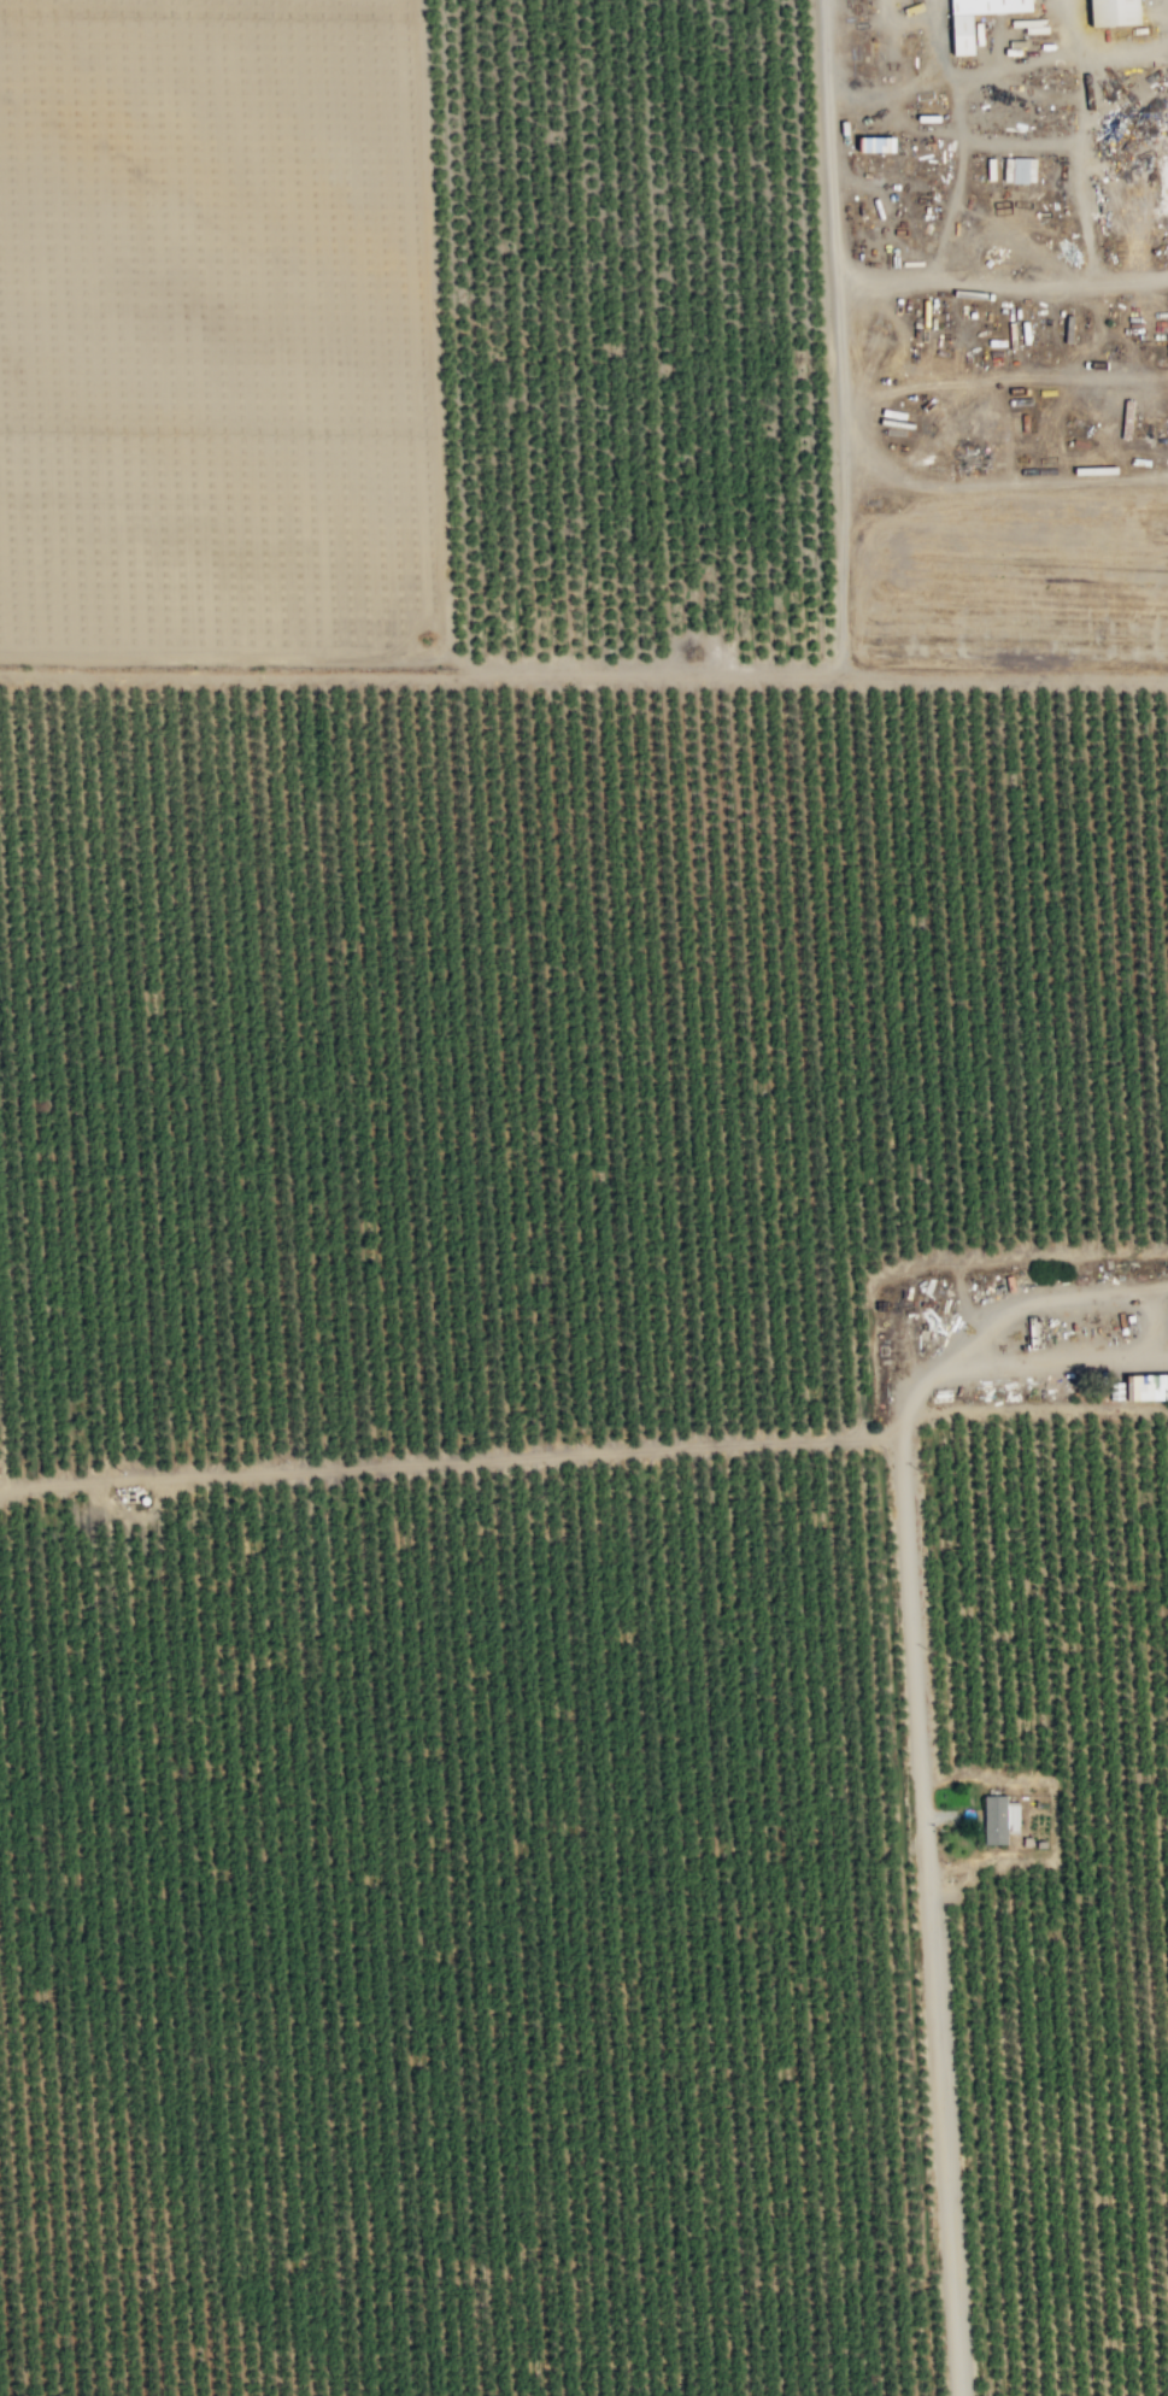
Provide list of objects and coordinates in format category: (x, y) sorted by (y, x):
building: (1108, 12)
building: (957, 34)
building: (873, 145)
building: (1017, 170)
road: (868, 283)
road: (1144, 1290)
road: (1146, 1309)
building: (1146, 1386)
building: (997, 1819)
road: (927, 1879)

